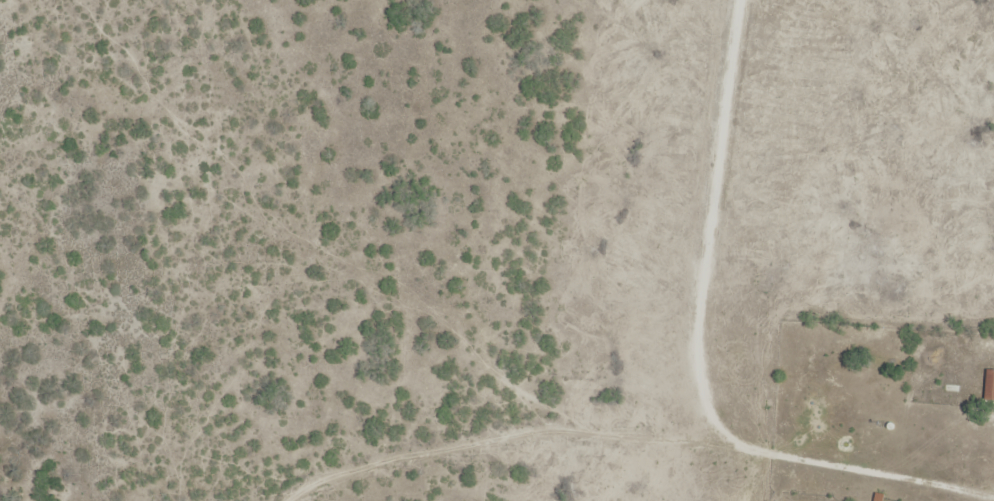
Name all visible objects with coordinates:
road: (711, 264)
building: (990, 385)
road: (876, 473)

